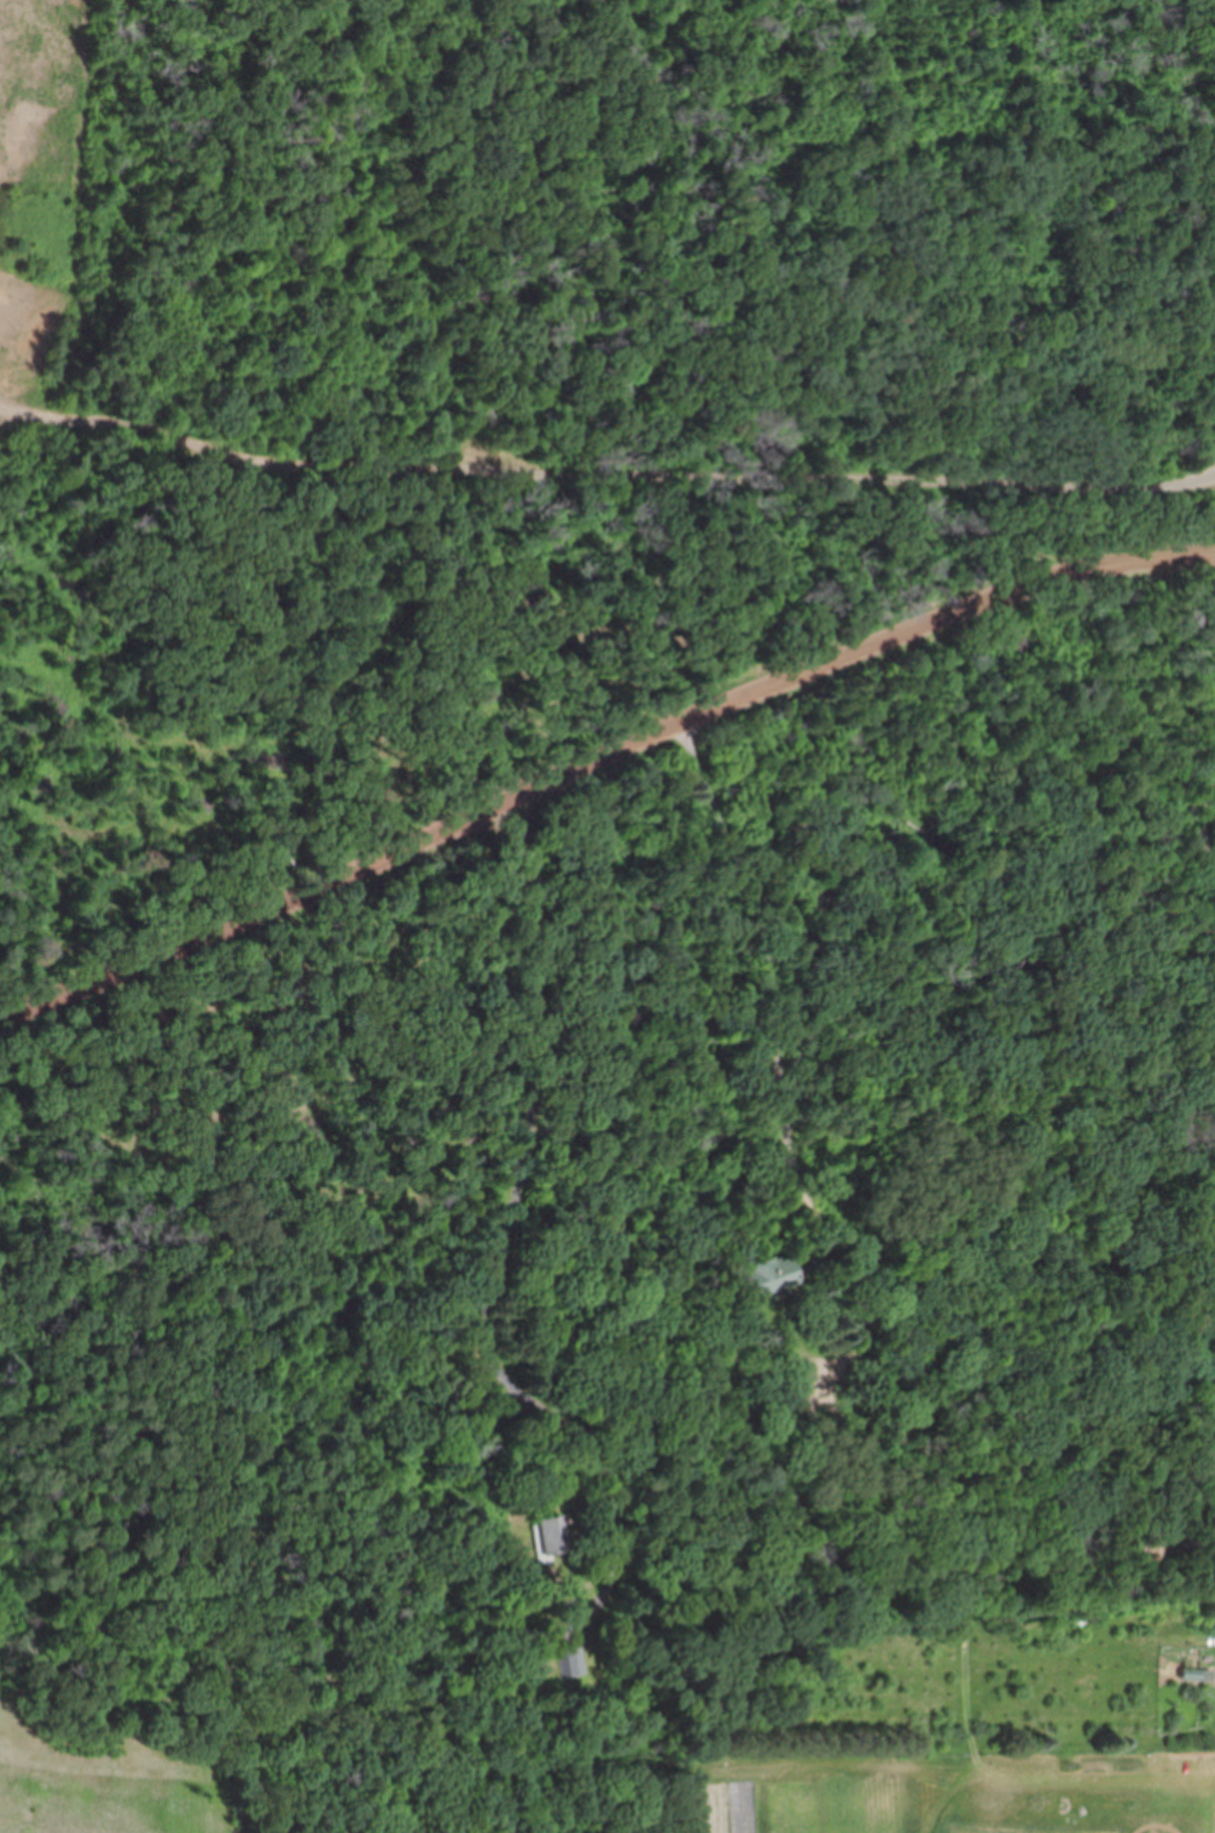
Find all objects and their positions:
park: (676, 235)
road: (521, 600)
road: (603, 767)
road: (633, 1142)
road: (493, 1201)
building: (761, 1279)
building: (792, 1385)
building: (537, 1537)
building: (1209, 1624)
building: (563, 1663)

